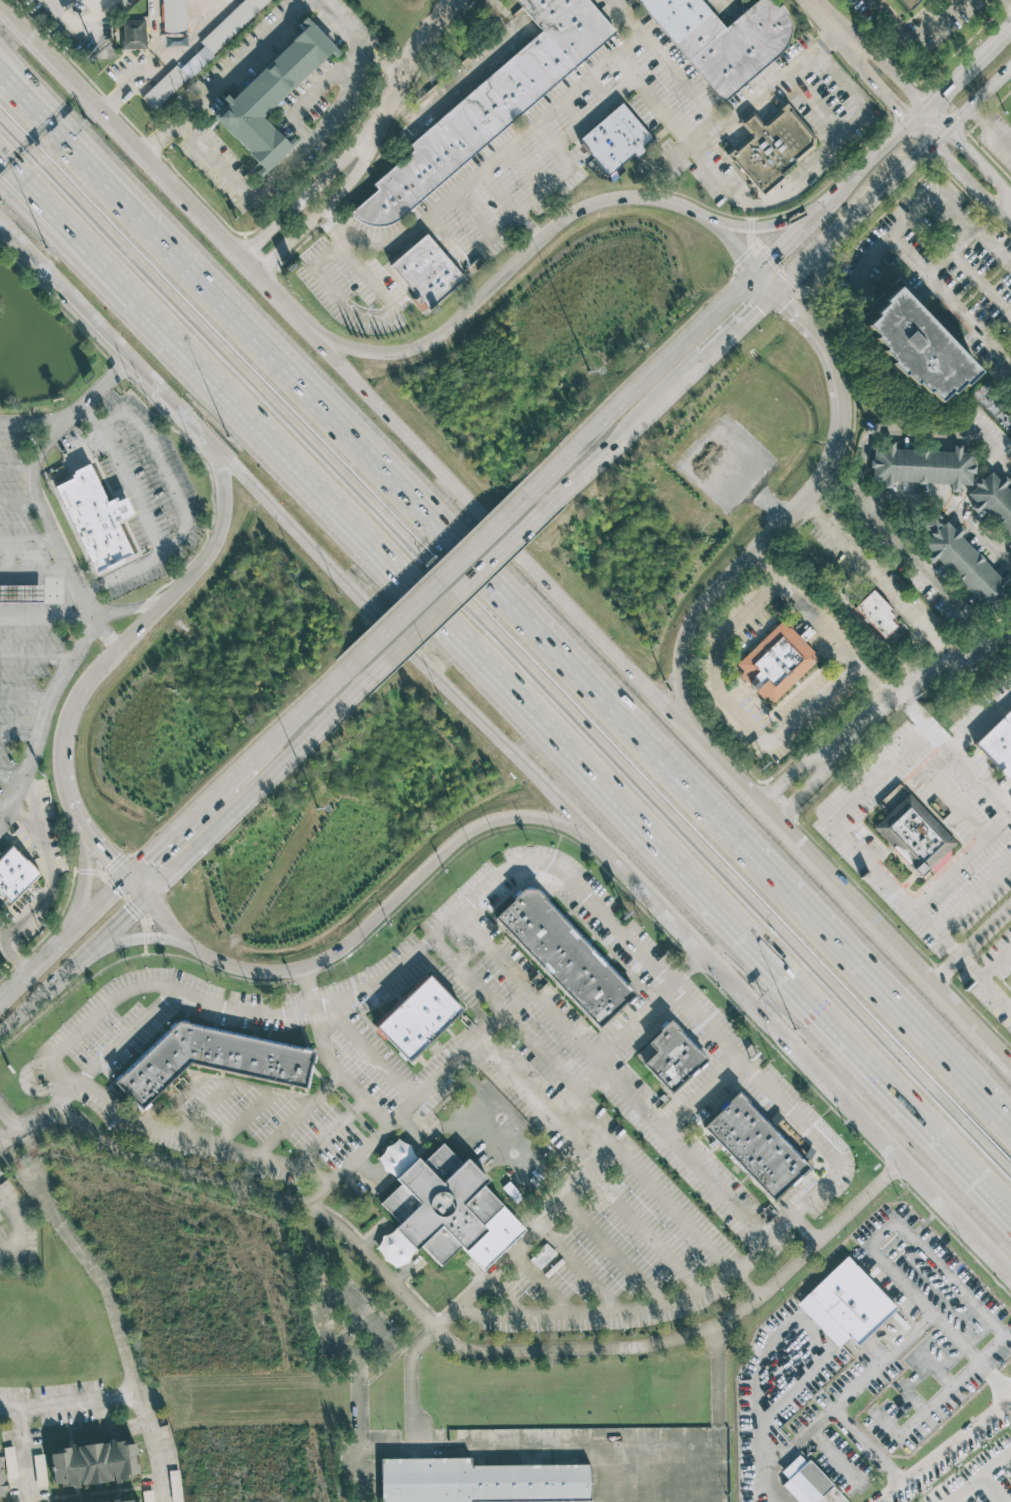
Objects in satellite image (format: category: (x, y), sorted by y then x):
road: (1010, 0)
building: (900, 1)
building: (108, 3)
road: (70, 14)
building: (174, 15)
road: (628, 17)
parking lot: (71, 20)
building: (133, 33)
road: (269, 37)
building: (724, 41)
road: (912, 43)
building: (202, 51)
road: (868, 57)
road: (418, 58)
road: (624, 70)
road: (967, 71)
road: (467, 75)
road: (684, 81)
road: (628, 85)
road: (598, 92)
building: (274, 97)
road: (976, 98)
road: (307, 101)
road: (819, 101)
building: (492, 106)
road: (752, 106)
traffic signals: (925, 114)
road: (570, 115)
road: (990, 129)
traffic signals: (943, 133)
building: (615, 138)
road: (74, 146)
building: (775, 151)
road: (99, 157)
parking lot: (530, 157)
road: (968, 162)
road: (808, 163)
road: (491, 164)
road: (281, 167)
road: (526, 170)
road: (163, 173)
road: (316, 192)
road: (839, 192)
road: (335, 207)
road: (514, 207)
road: (912, 209)
road: (855, 210)
road: (516, 215)
road: (473, 217)
road: (987, 217)
road: (782, 224)
road: (2, 229)
road: (64, 239)
road: (731, 244)
road: (19, 245)
road: (64, 246)
road: (328, 248)
road: (174, 249)
traffic signals: (775, 253)
road: (514, 270)
building: (430, 275)
parking lot: (949, 276)
road: (933, 277)
road: (764, 282)
road: (815, 286)
parking lot: (356, 288)
road: (980, 288)
traffic signals: (787, 306)
traffic signals: (757, 307)
road: (384, 313)
road: (737, 325)
road: (816, 337)
building: (923, 341)
road: (128, 352)
road: (636, 385)
road: (75, 410)
road: (620, 438)
road: (19, 461)
road: (827, 464)
building: (922, 465)
road: (126, 477)
parking lot: (136, 488)
road: (857, 490)
road: (948, 496)
road: (19, 499)
building: (994, 501)
road: (180, 508)
road: (772, 508)
building: (93, 516)
road: (47, 519)
road: (27, 542)
road: (514, 546)
building: (1009, 546)
road: (209, 558)
road: (740, 564)
building: (964, 564)
road: (33, 570)
road: (436, 579)
road: (877, 581)
building: (21, 593)
road: (455, 597)
parking lot: (22, 603)
road: (134, 608)
road: (44, 613)
building: (875, 613)
road: (862, 626)
road: (819, 628)
road: (111, 635)
road: (416, 652)
road: (506, 652)
road: (38, 657)
road: (953, 662)
building: (779, 664)
road: (679, 680)
road: (27, 697)
road: (607, 700)
road: (302, 709)
road: (741, 716)
road: (47, 717)
road: (982, 719)
road: (64, 735)
road: (20, 736)
building: (999, 747)
road: (955, 750)
road: (831, 756)
road: (569, 768)
road: (269, 777)
road: (13, 778)
road: (735, 784)
road: (943, 792)
road: (2, 817)
road: (187, 820)
road: (497, 821)
building: (916, 838)
parking lot: (921, 839)
road: (962, 858)
traffic signals: (107, 859)
traffic signals: (143, 863)
road: (874, 864)
road: (116, 870)
building: (14, 874)
road: (495, 877)
road: (49, 887)
road: (154, 889)
road: (83, 891)
road: (974, 896)
traffic signals: (128, 915)
road: (112, 929)
road: (2, 933)
road: (136, 939)
road: (63, 941)
road: (887, 943)
road: (970, 947)
building: (565, 957)
road: (996, 962)
road: (266, 974)
road: (467, 977)
road: (307, 986)
road: (528, 989)
road: (41, 996)
road: (285, 1012)
road: (505, 1013)
building: (419, 1018)
road: (127, 1034)
road: (370, 1051)
building: (672, 1058)
building: (216, 1060)
road: (815, 1067)
parking lot: (492, 1090)
road: (697, 1092)
road: (62, 1099)
road: (202, 1107)
road: (546, 1110)
road: (297, 1114)
road: (242, 1118)
road: (18, 1130)
road: (221, 1145)
building: (756, 1149)
road: (8, 1152)
road: (315, 1172)
road: (38, 1179)
road: (29, 1182)
road: (663, 1198)
road: (805, 1201)
building: (439, 1210)
road: (642, 1229)
road: (804, 1230)
road: (17, 1231)
road: (612, 1249)
building: (542, 1256)
road: (578, 1265)
road: (488, 1278)
road: (539, 1282)
road: (504, 1293)
building: (852, 1302)
road: (976, 1307)
road: (622, 1309)
road: (448, 1338)
road: (122, 1343)
road: (885, 1358)
parking lot: (862, 1366)
road: (718, 1376)
road: (69, 1406)
road: (958, 1441)
road: (418, 1449)
road: (594, 1449)
road: (30, 1456)
building: (94, 1463)
parking lot: (540, 1464)
building: (6, 1467)
building: (39, 1470)
building: (803, 1480)
building: (480, 1482)
road: (894, 1493)
building: (132, 1501)

